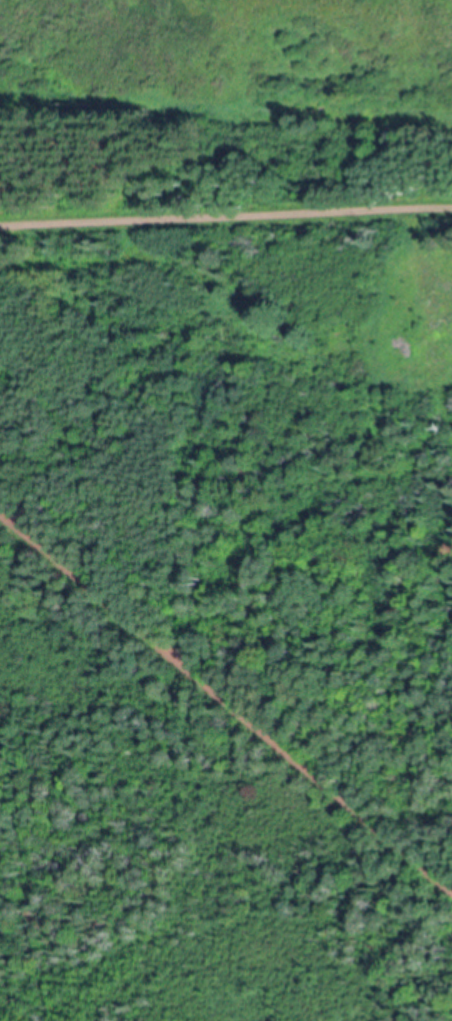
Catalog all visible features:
road: (226, 216)
road: (226, 700)

